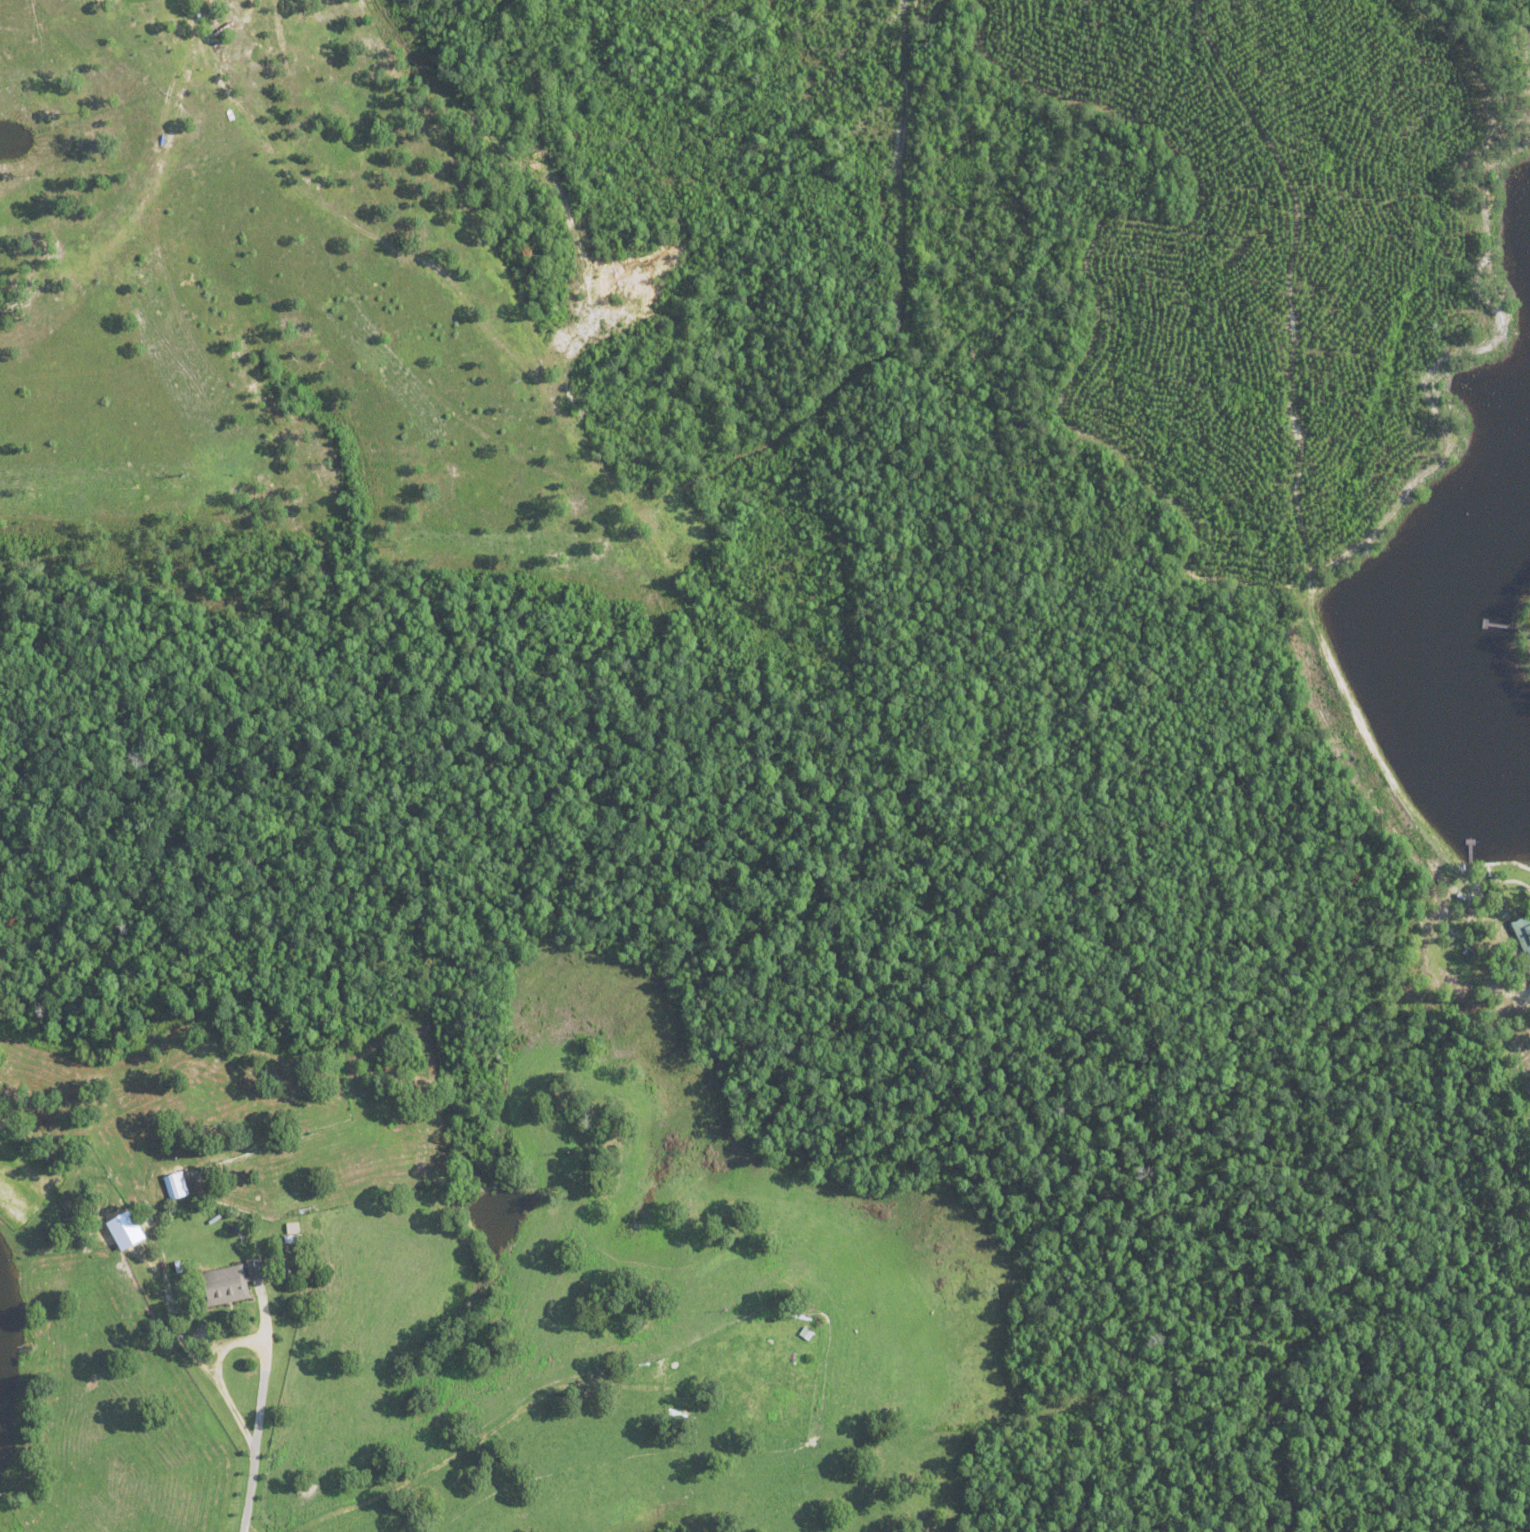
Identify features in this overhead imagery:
building: (1522, 933)
building: (228, 1282)
road: (174, 1328)
road: (265, 1332)
road: (218, 1378)
road: (253, 1450)

